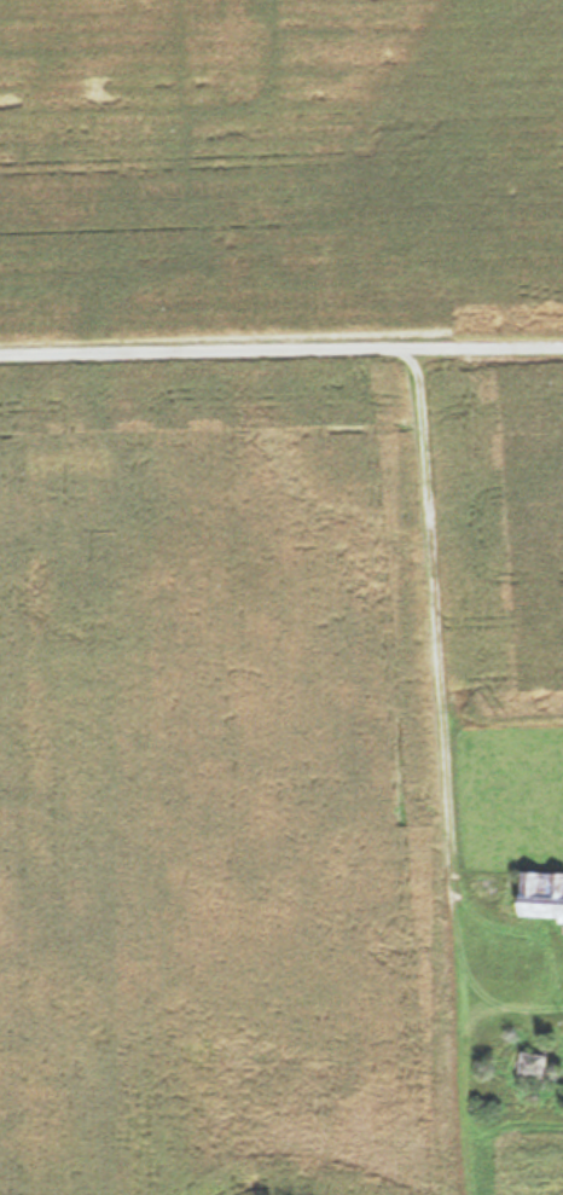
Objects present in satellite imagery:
road: (281, 352)
building: (541, 894)
building: (530, 1065)
road: (476, 1147)

